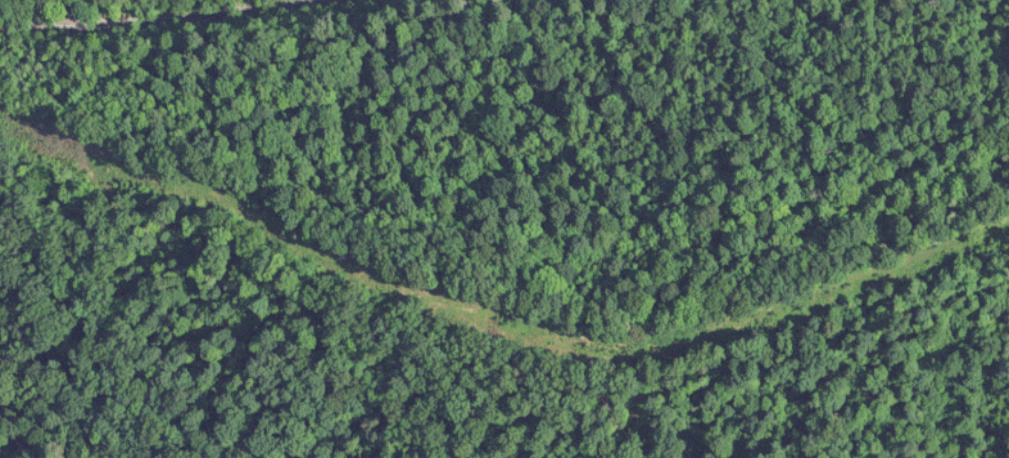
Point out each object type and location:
road: (118, 11)
road: (118, 11)
road: (484, 290)

